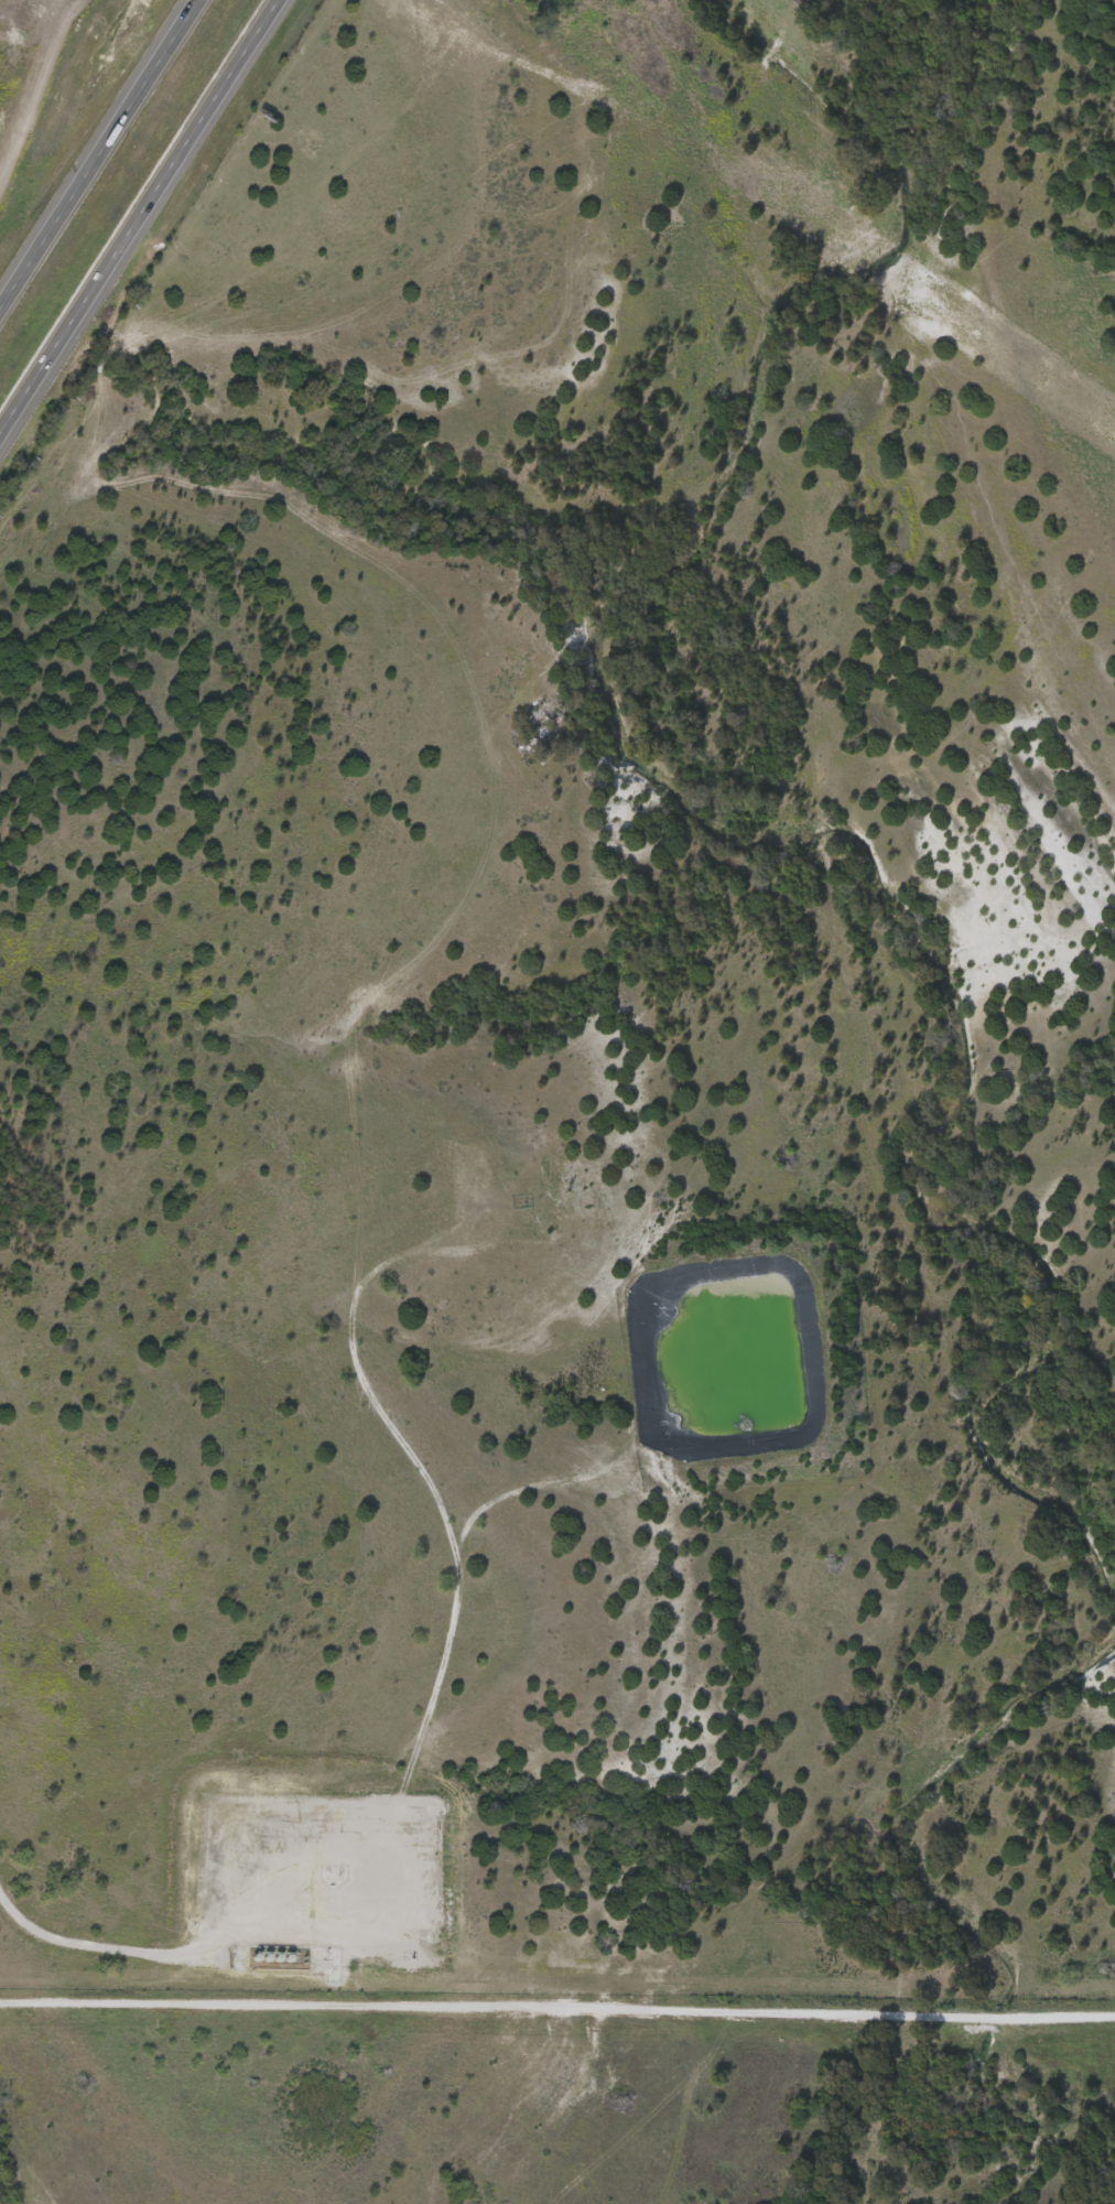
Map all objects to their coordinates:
road: (99, 153)
road: (138, 216)
road: (557, 2007)

